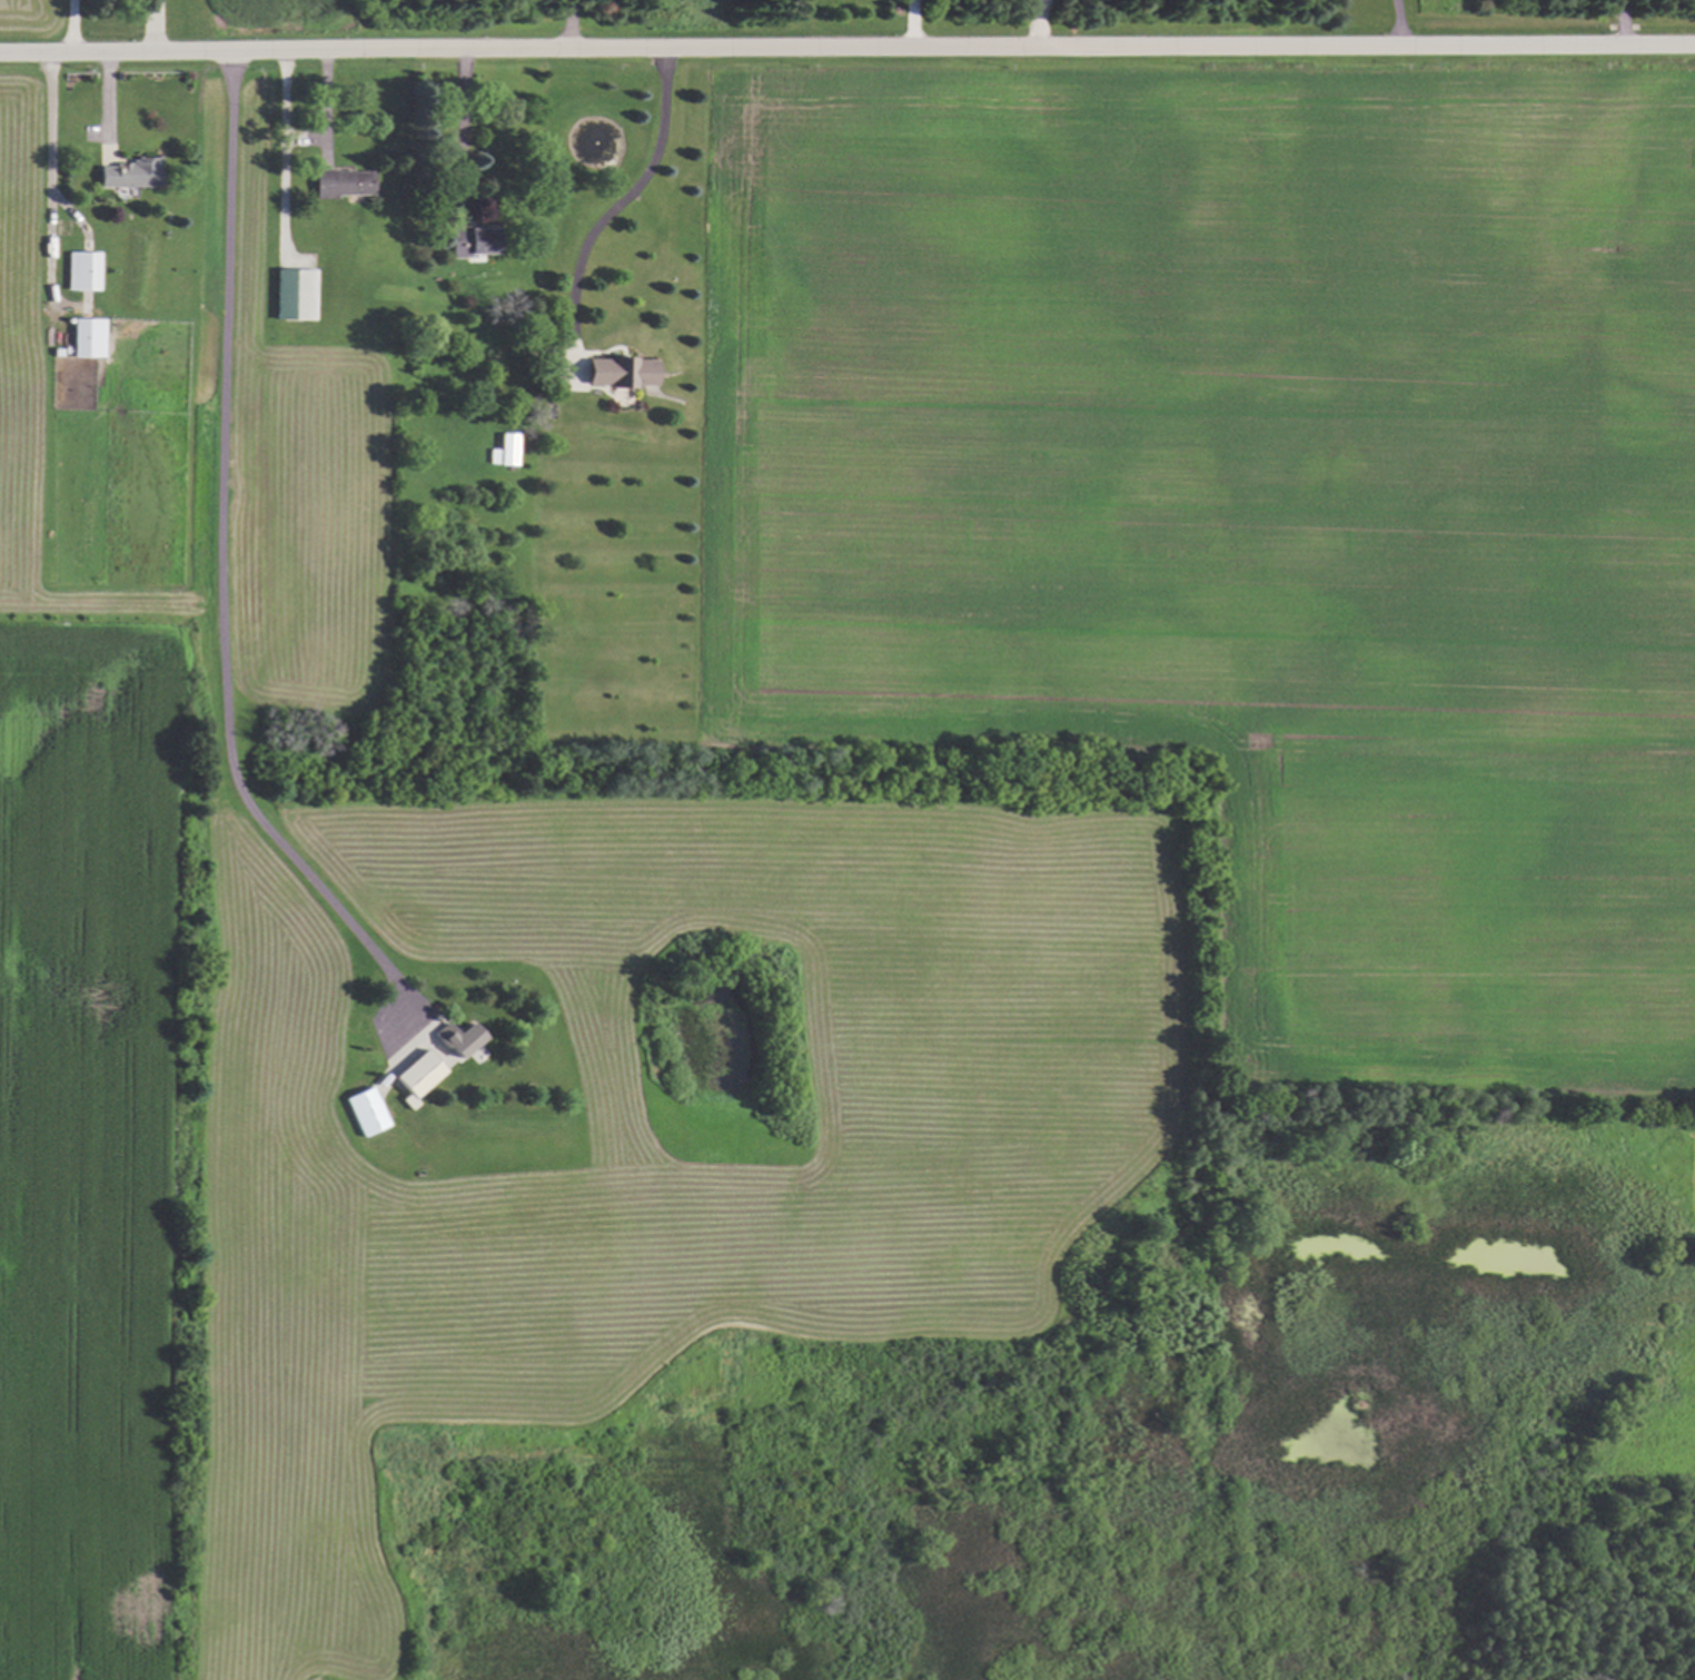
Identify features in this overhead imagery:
crop: (28, 14)
crop: (293, 14)
road: (1622, 20)
road: (1397, 21)
road: (1037, 22)
road: (911, 23)
road: (572, 24)
road: (846, 48)
road: (321, 113)
road: (462, 132)
road: (281, 150)
road: (49, 166)
building: (128, 174)
building: (343, 181)
road: (628, 197)
building: (474, 241)
building: (81, 270)
building: (294, 294)
building: (87, 337)
building: (619, 372)
building: (504, 449)
crop: (1248, 507)
road: (220, 554)
crop: (460, 1056)
building: (417, 1074)
building: (365, 1110)

